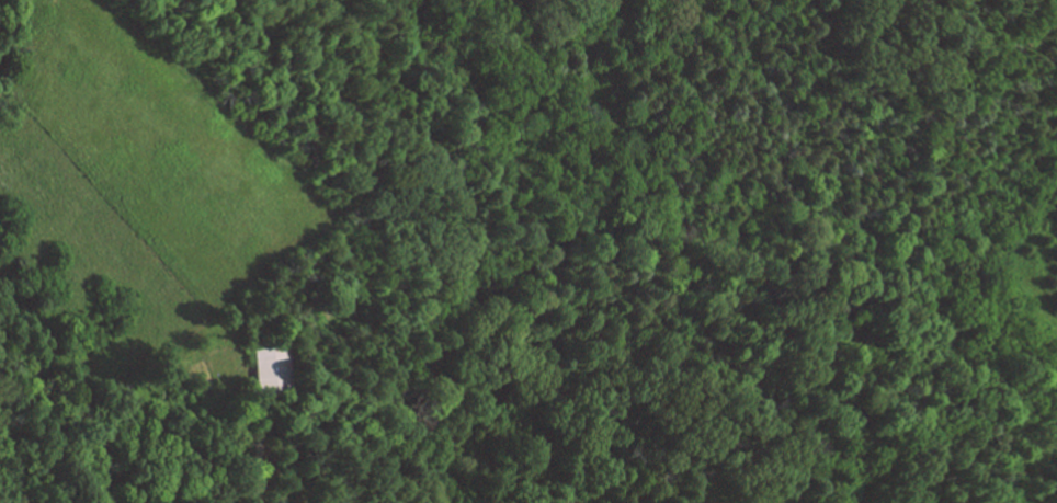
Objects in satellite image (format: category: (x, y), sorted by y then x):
building: (270, 369)
road: (258, 447)

